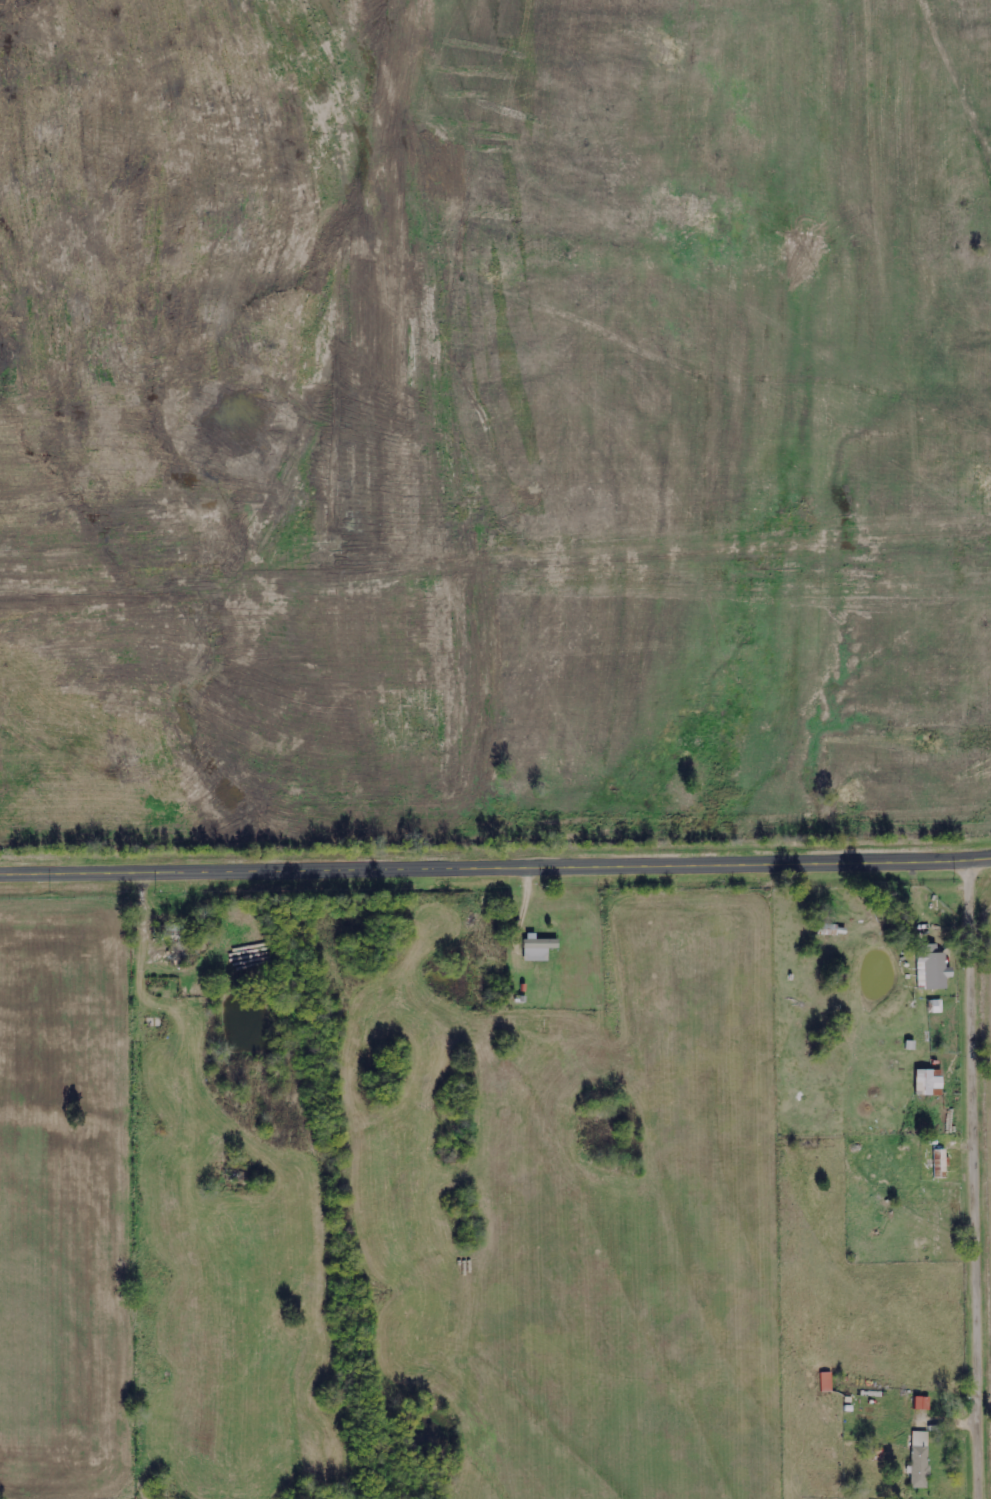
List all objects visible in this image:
road: (495, 870)
building: (830, 930)
building: (541, 948)
building: (934, 968)
building: (937, 1007)
building: (930, 1083)
building: (942, 1164)
road: (973, 1181)
building: (922, 1460)

